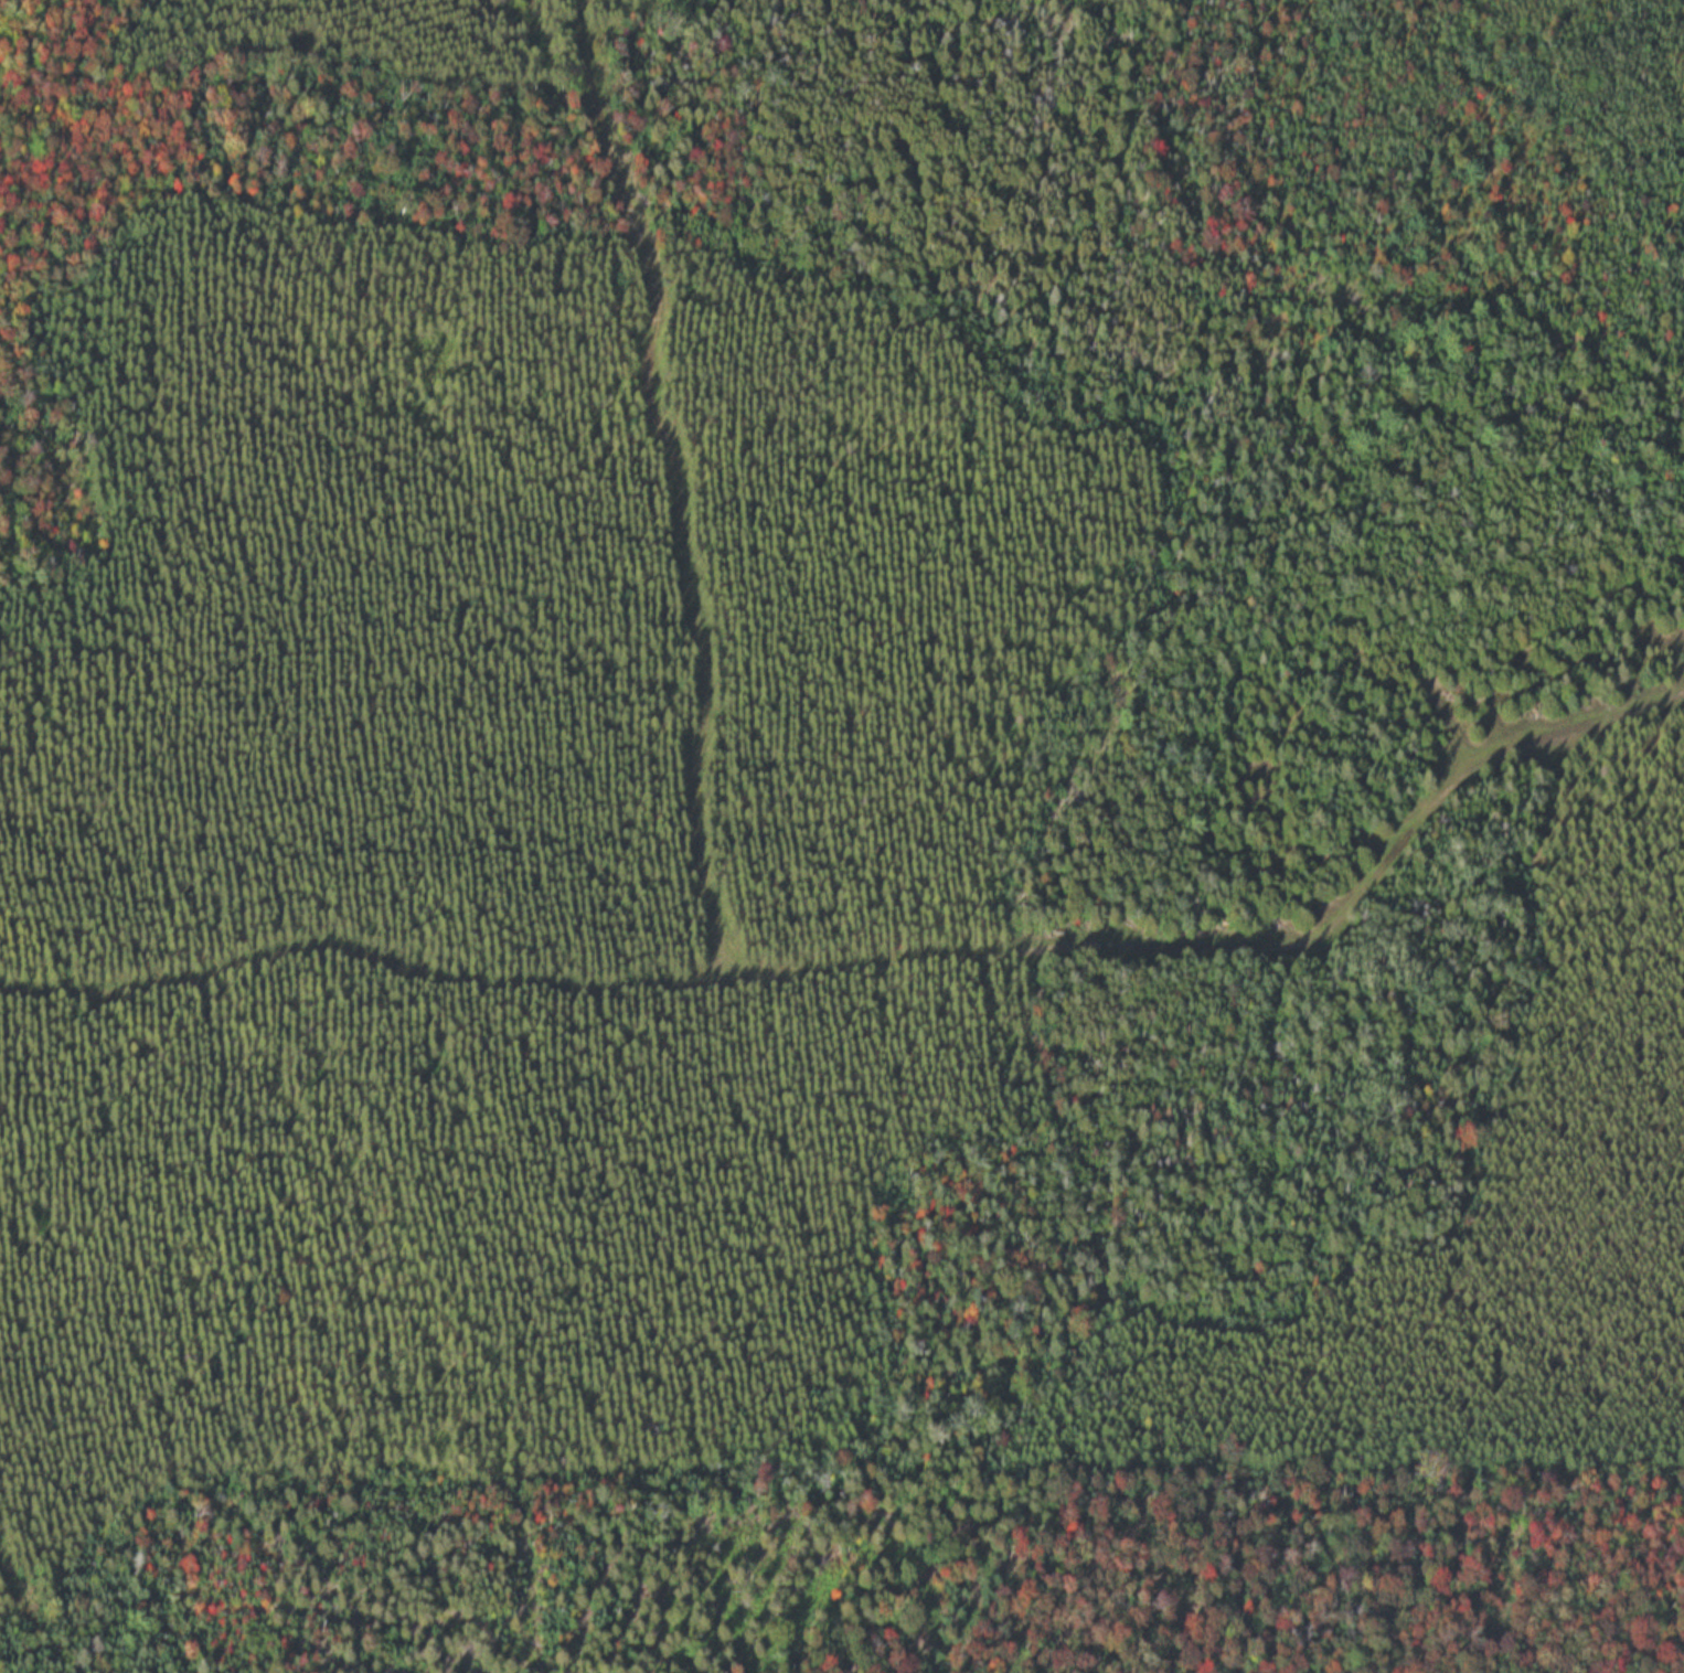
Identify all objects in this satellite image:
road: (881, 966)

